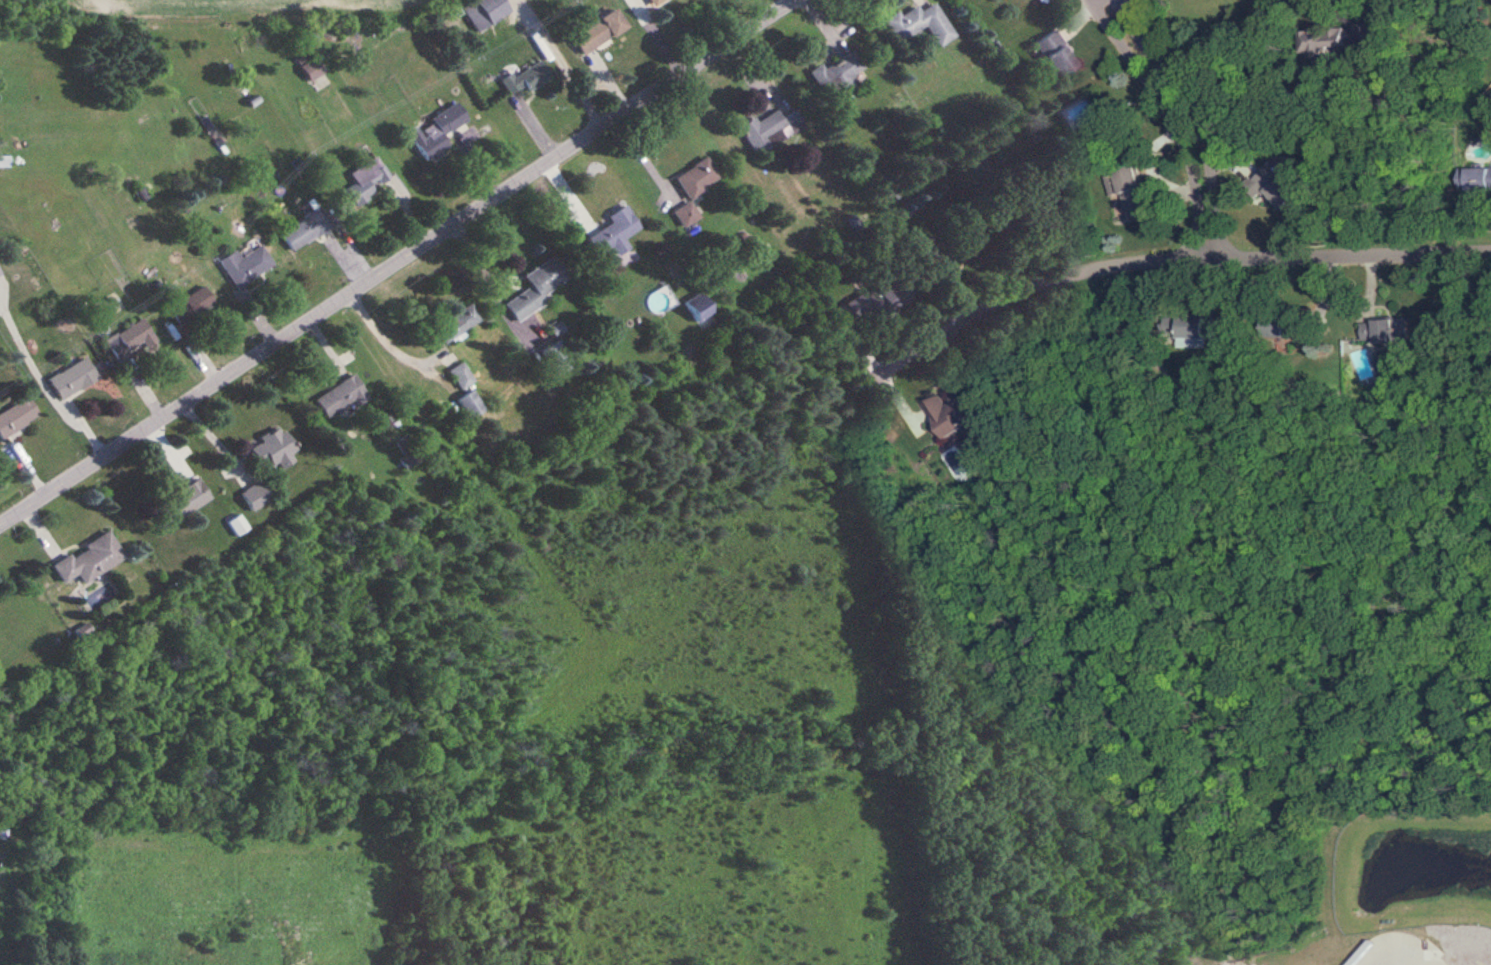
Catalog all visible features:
building: (651, 1)
building: (480, 9)
building: (918, 23)
building: (595, 30)
building: (1322, 43)
building: (1052, 51)
road: (561, 63)
building: (308, 66)
building: (835, 74)
building: (523, 79)
building: (252, 101)
road: (1183, 117)
building: (769, 129)
building: (437, 130)
building: (4, 161)
building: (694, 176)
building: (1478, 179)
building: (363, 180)
building: (1276, 186)
building: (1132, 188)
building: (684, 214)
building: (304, 228)
building: (612, 232)
building: (950, 248)
road: (1134, 259)
road: (396, 261)
building: (240, 266)
building: (534, 287)
building: (877, 297)
building: (189, 304)
building: (697, 307)
building: (455, 324)
building: (1281, 325)
building: (1378, 328)
building: (1189, 329)
building: (128, 337)
road: (384, 341)
building: (559, 356)
building: (460, 374)
building: (70, 376)
building: (339, 395)
building: (468, 404)
building: (951, 411)
building: (15, 414)
building: (271, 447)
building: (404, 448)
building: (252, 495)
building: (181, 500)
building: (235, 524)
building: (85, 559)
building: (77, 628)

